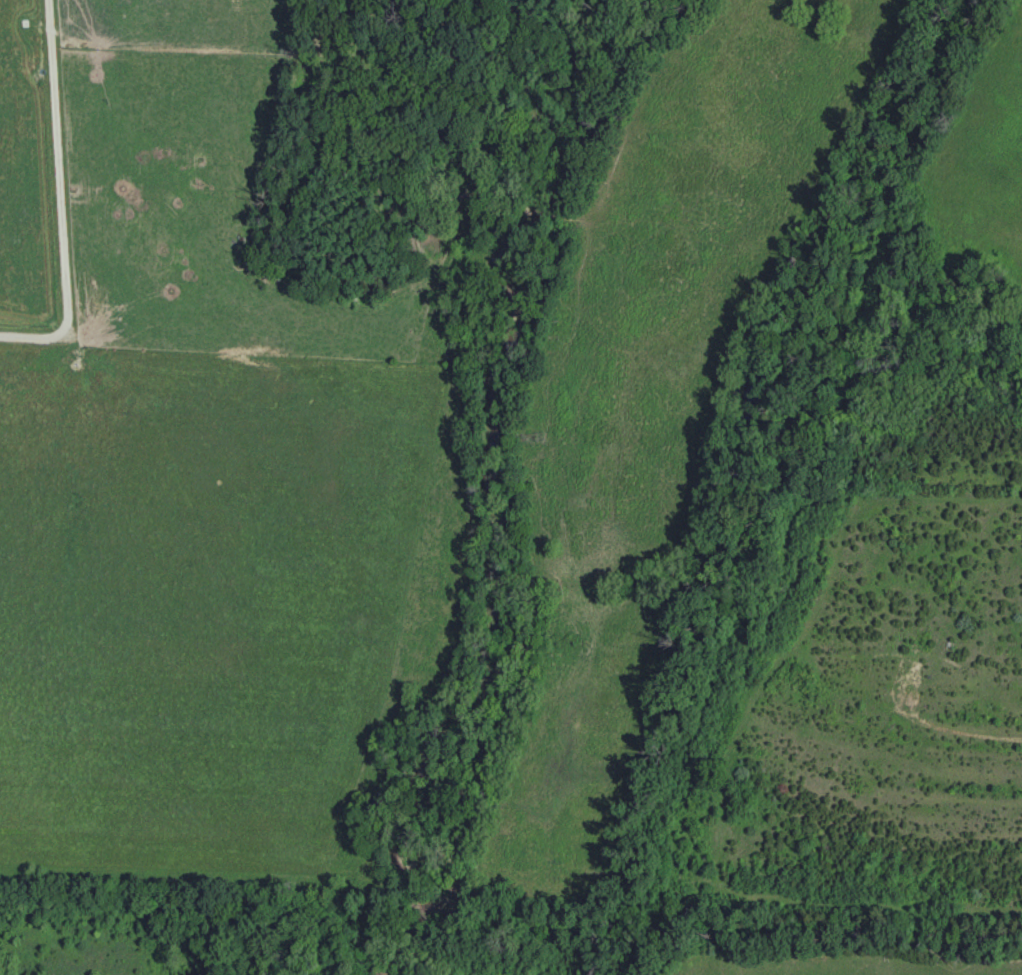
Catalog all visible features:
road: (66, 203)

